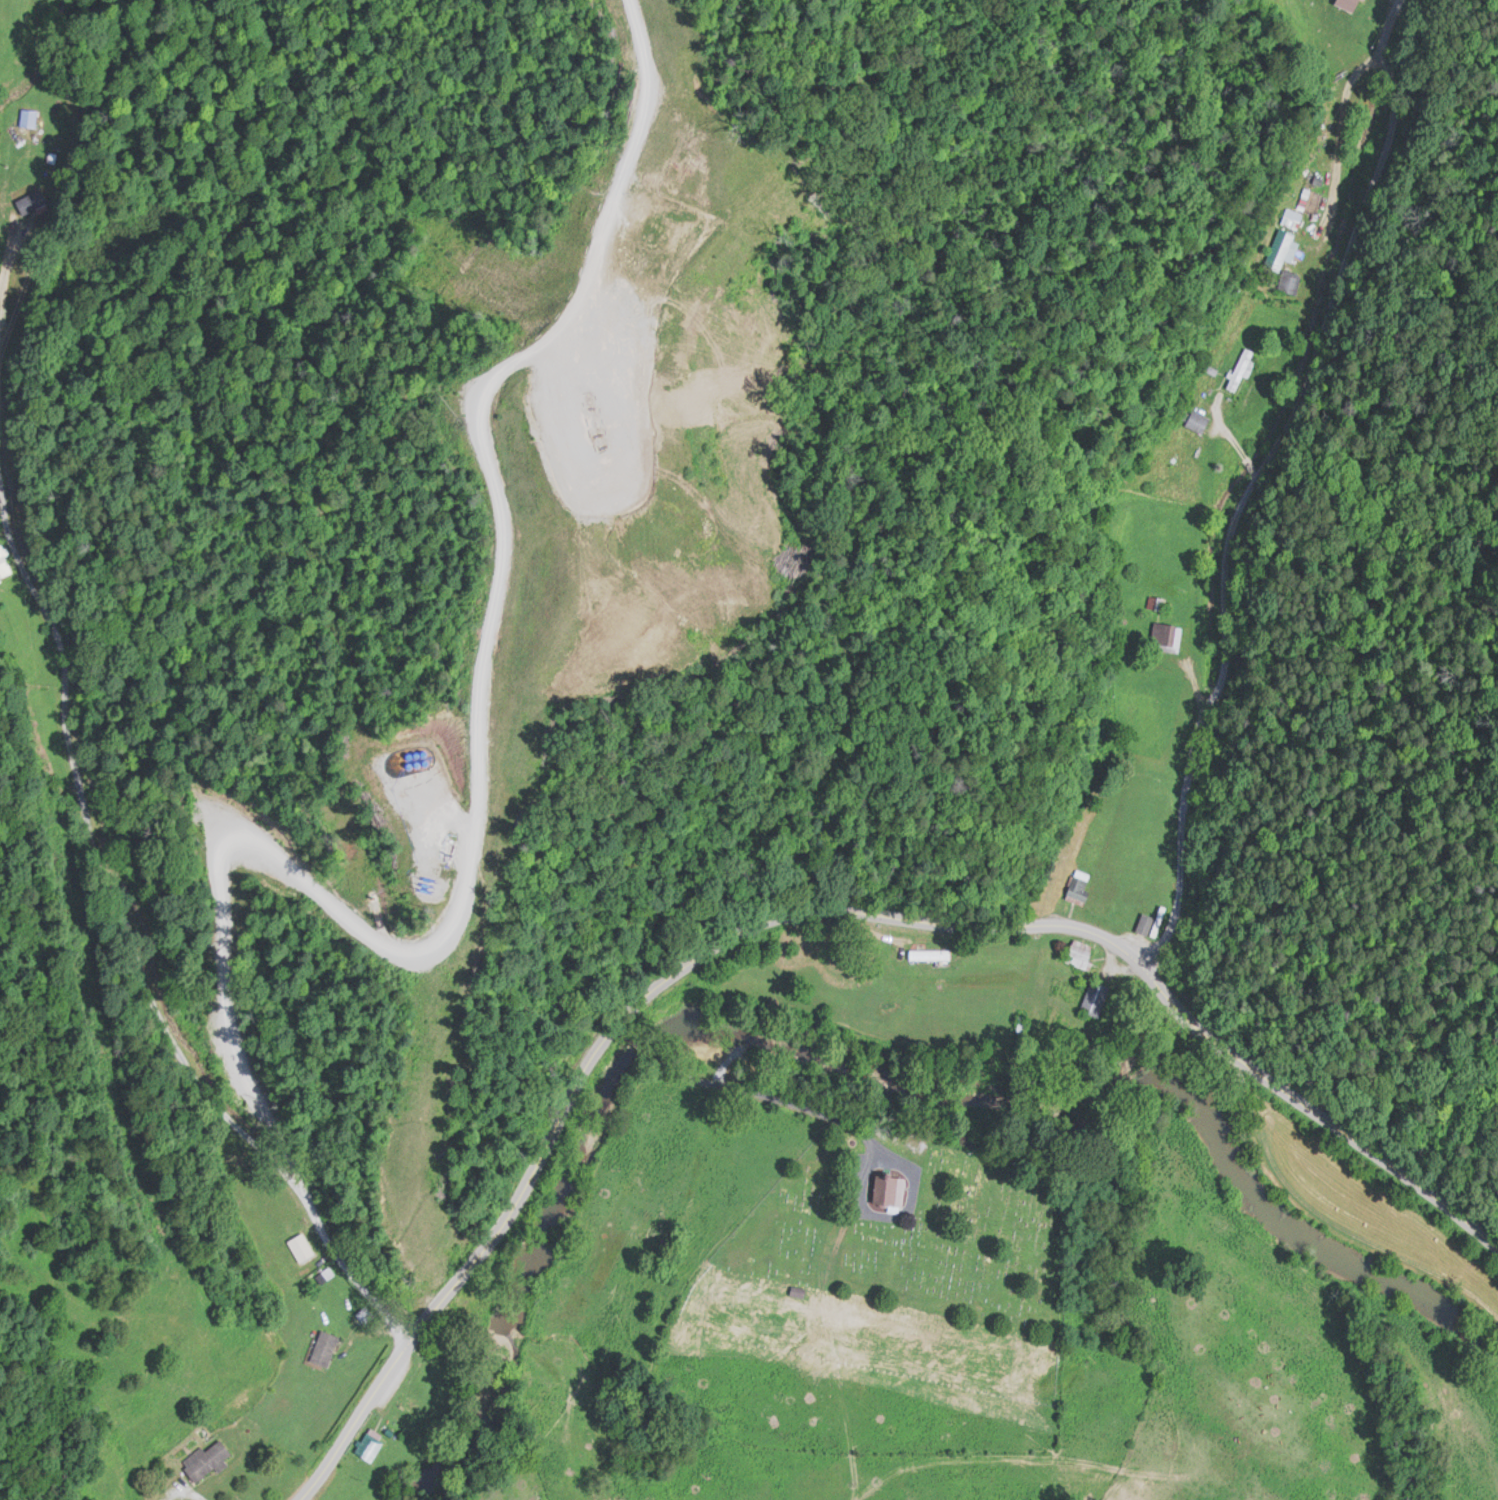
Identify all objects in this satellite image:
building: (26, 115)
building: (32, 201)
building: (1290, 216)
building: (1287, 279)
building: (1239, 367)
building: (1195, 418)
road: (1271, 488)
building: (3, 561)
building: (1163, 631)
building: (1076, 884)
building: (1143, 922)
building: (1076, 951)
building: (927, 952)
building: (1093, 996)
road: (624, 1023)
road: (1323, 1115)
building: (886, 1186)
park: (914, 1221)
building: (321, 1346)
building: (367, 1443)
building: (205, 1458)

